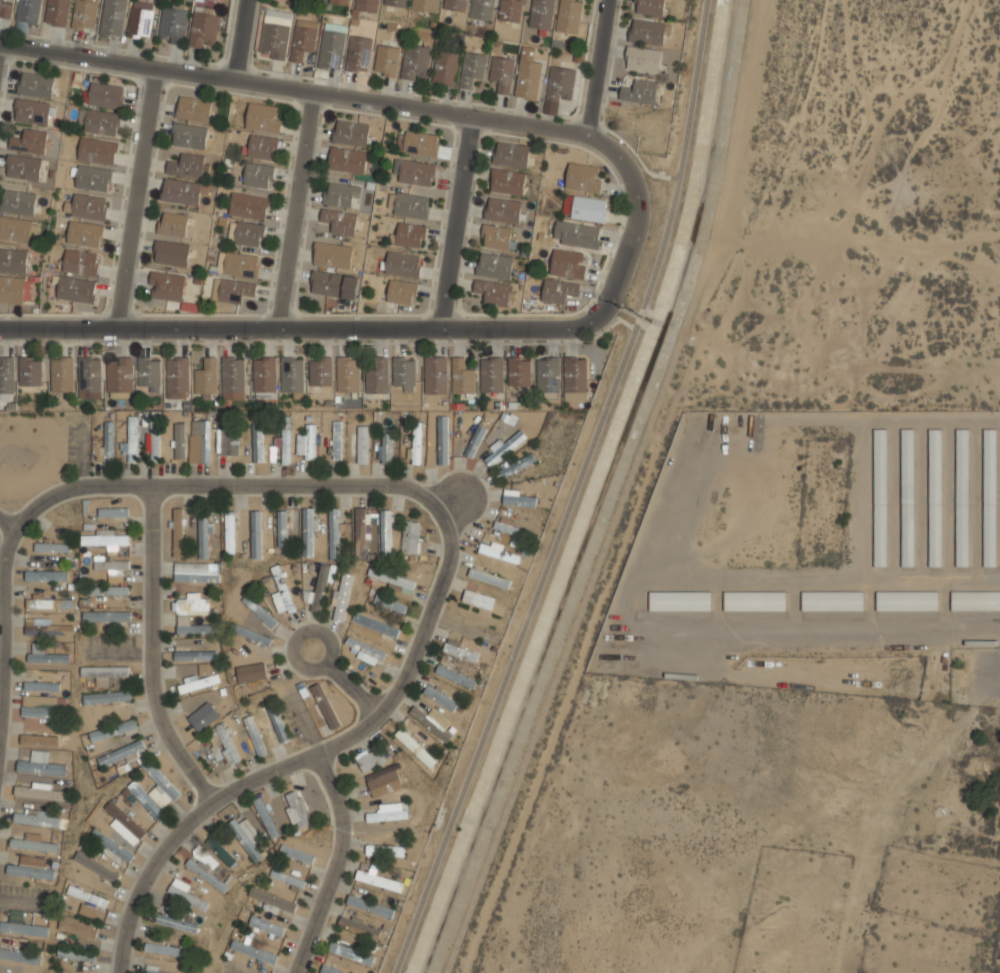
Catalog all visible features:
building: (340, 2)
building: (396, 3)
building: (366, 5)
building: (425, 5)
building: (455, 5)
building: (648, 6)
building: (6, 8)
building: (482, 9)
building: (510, 10)
building: (57, 12)
building: (27, 13)
building: (541, 14)
building: (84, 15)
building: (568, 16)
building: (113, 18)
building: (140, 21)
building: (173, 26)
building: (204, 31)
building: (647, 31)
building: (275, 34)
road: (241, 39)
building: (303, 39)
building: (332, 45)
building: (358, 53)
building: (642, 58)
building: (386, 60)
building: (416, 62)
building: (445, 67)
building: (472, 67)
road: (596, 67)
building: (502, 73)
building: (527, 76)
building: (560, 84)
building: (36, 85)
road: (293, 87)
building: (640, 91)
building: (105, 96)
building: (194, 109)
building: (33, 113)
building: (263, 117)
building: (99, 123)
building: (351, 133)
building: (190, 136)
building: (31, 141)
building: (421, 144)
building: (262, 146)
building: (97, 151)
building: (511, 153)
building: (346, 160)
building: (187, 165)
building: (23, 167)
building: (413, 171)
building: (257, 174)
building: (584, 177)
building: (93, 178)
building: (507, 181)
building: (181, 191)
building: (341, 193)
road: (136, 197)
building: (21, 202)
building: (408, 204)
building: (248, 205)
building: (90, 206)
building: (584, 207)
road: (297, 209)
building: (504, 210)
road: (638, 218)
road: (457, 220)
building: (340, 221)
building: (173, 223)
building: (18, 229)
building: (247, 233)
building: (85, 234)
building: (576, 234)
building: (408, 235)
building: (496, 237)
building: (171, 253)
building: (332, 254)
building: (14, 260)
building: (81, 262)
building: (568, 263)
building: (241, 264)
building: (402, 264)
building: (494, 265)
building: (333, 284)
building: (166, 285)
building: (76, 289)
building: (232, 289)
building: (13, 290)
building: (558, 290)
building: (401, 292)
building: (493, 292)
road: (619, 318)
road: (301, 327)
building: (320, 371)
building: (519, 371)
building: (30, 373)
building: (348, 373)
building: (403, 373)
building: (149, 374)
building: (436, 374)
building: (491, 374)
building: (547, 374)
building: (7, 375)
building: (292, 375)
building: (61, 376)
building: (377, 376)
building: (119, 377)
building: (462, 377)
building: (90, 378)
building: (206, 378)
building: (264, 378)
building: (575, 378)
building: (176, 379)
building: (232, 379)
building: (179, 435)
building: (203, 437)
building: (132, 439)
building: (443, 439)
building: (229, 440)
building: (337, 440)
building: (475, 440)
building: (357, 441)
building: (257, 442)
building: (308, 442)
building: (108, 443)
building: (155, 443)
building: (286, 444)
building: (416, 444)
building: (386, 447)
building: (503, 448)
building: (517, 465)
road: (223, 487)
road: (573, 493)
building: (880, 497)
building: (907, 497)
building: (935, 497)
building: (962, 497)
building: (989, 497)
building: (519, 500)
building: (113, 512)
road: (5, 523)
building: (507, 525)
building: (282, 529)
building: (177, 531)
building: (230, 531)
building: (360, 531)
building: (308, 532)
building: (334, 533)
building: (256, 534)
building: (385, 534)
building: (204, 536)
building: (412, 537)
building: (105, 539)
building: (52, 547)
building: (499, 552)
building: (112, 566)
building: (193, 572)
building: (46, 575)
building: (391, 577)
building: (489, 577)
building: (320, 588)
building: (108, 591)
building: (282, 591)
building: (342, 596)
building: (680, 600)
building: (907, 600)
building: (975, 600)
building: (754, 601)
building: (832, 601)
building: (389, 602)
building: (50, 603)
building: (481, 603)
building: (190, 605)
building: (260, 611)
building: (108, 616)
road: (3, 625)
building: (373, 625)
building: (47, 629)
building: (194, 629)
building: (251, 633)
building: (365, 647)
building: (460, 651)
building: (45, 654)
building: (195, 654)
road: (151, 656)
building: (253, 670)
building: (105, 671)
building: (455, 676)
building: (200, 679)
road: (348, 685)
building: (42, 686)
building: (106, 697)
building: (440, 697)
building: (325, 705)
building: (38, 708)
building: (89, 716)
building: (204, 716)
building: (430, 722)
building: (277, 724)
building: (113, 730)
building: (254, 733)
building: (40, 741)
building: (225, 742)
building: (416, 747)
building: (121, 753)
building: (370, 758)
road: (311, 761)
building: (41, 766)
building: (161, 780)
building: (383, 781)
building: (41, 793)
building: (145, 799)
building: (132, 807)
building: (295, 808)
building: (388, 812)
building: (37, 817)
building: (124, 819)
building: (246, 836)
building: (34, 844)
building: (112, 844)
building: (385, 850)
building: (222, 852)
building: (297, 853)
building: (96, 866)
road: (337, 866)
building: (30, 868)
building: (207, 875)
building: (288, 878)
building: (379, 880)
building: (187, 896)
building: (273, 900)
building: (88, 901)
building: (370, 905)
building: (176, 922)
building: (359, 924)
building: (79, 925)
building: (266, 926)
building: (23, 928)
building: (167, 949)
building: (257, 952)
building: (353, 954)
building: (19, 956)
building: (78, 956)
building: (331, 969)
building: (158, 970)

